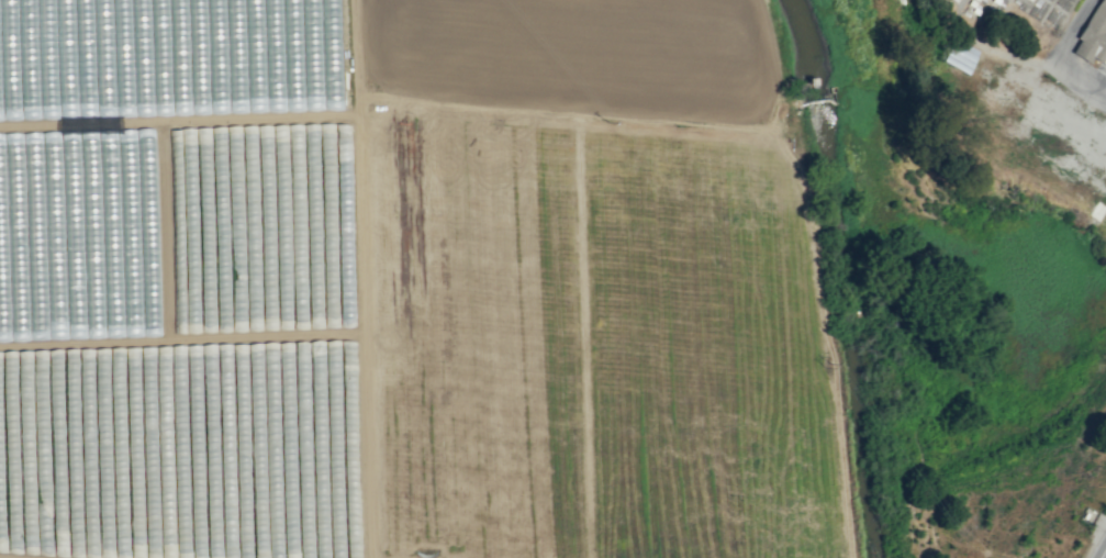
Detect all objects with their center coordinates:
park: (1017, 11)
building: (1096, 37)
building: (959, 55)
road: (362, 155)
crop: (421, 282)
crop: (958, 324)

